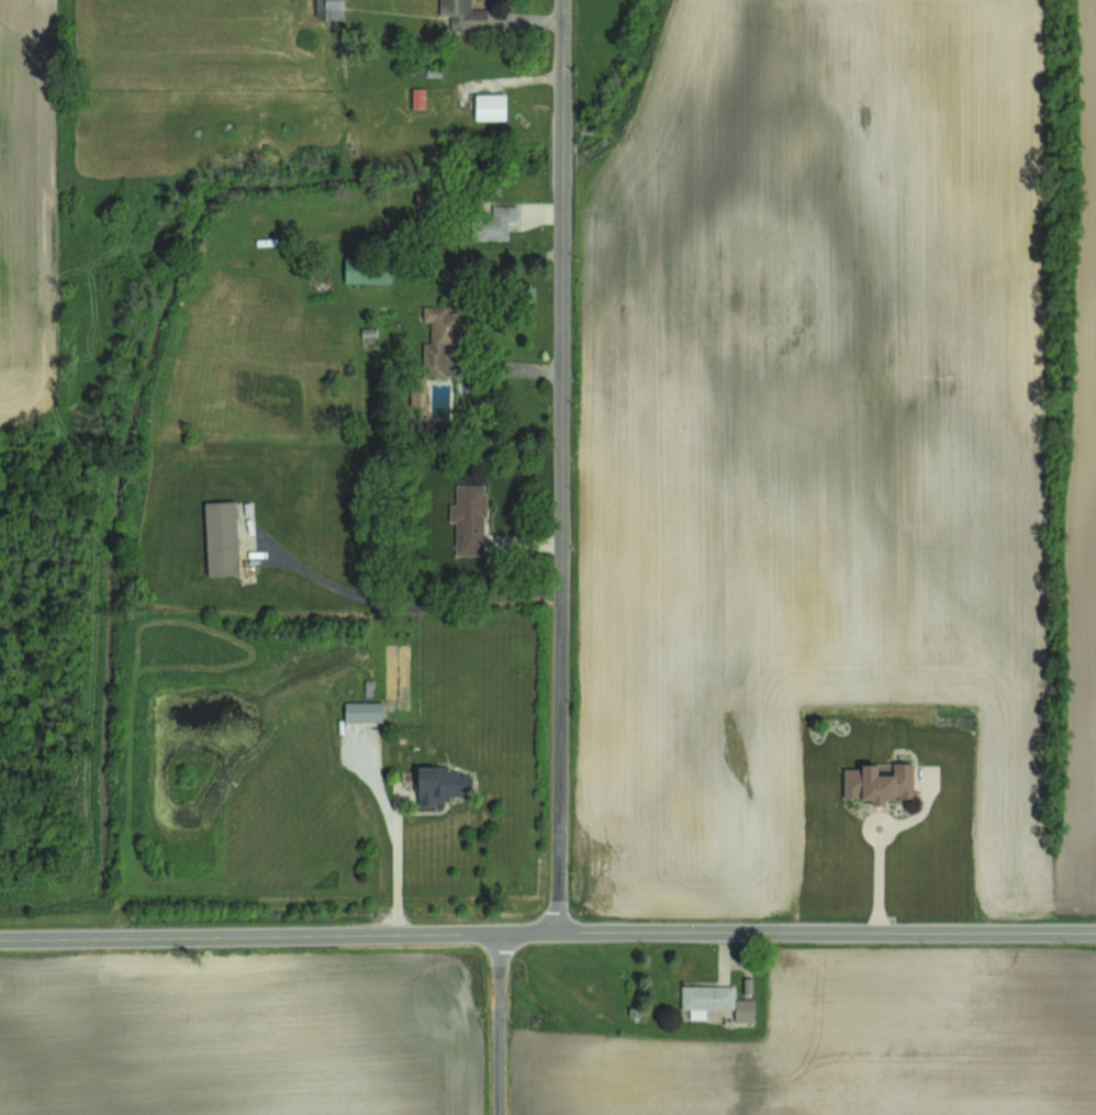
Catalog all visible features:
building: (328, 8)
road: (557, 58)
building: (417, 97)
building: (490, 105)
road: (556, 149)
building: (496, 222)
building: (367, 270)
building: (438, 337)
building: (417, 390)
building: (468, 519)
building: (220, 521)
road: (562, 556)
road: (412, 609)
building: (358, 717)
building: (440, 790)
road: (389, 872)
road: (871, 879)
road: (547, 930)
road: (499, 1023)

